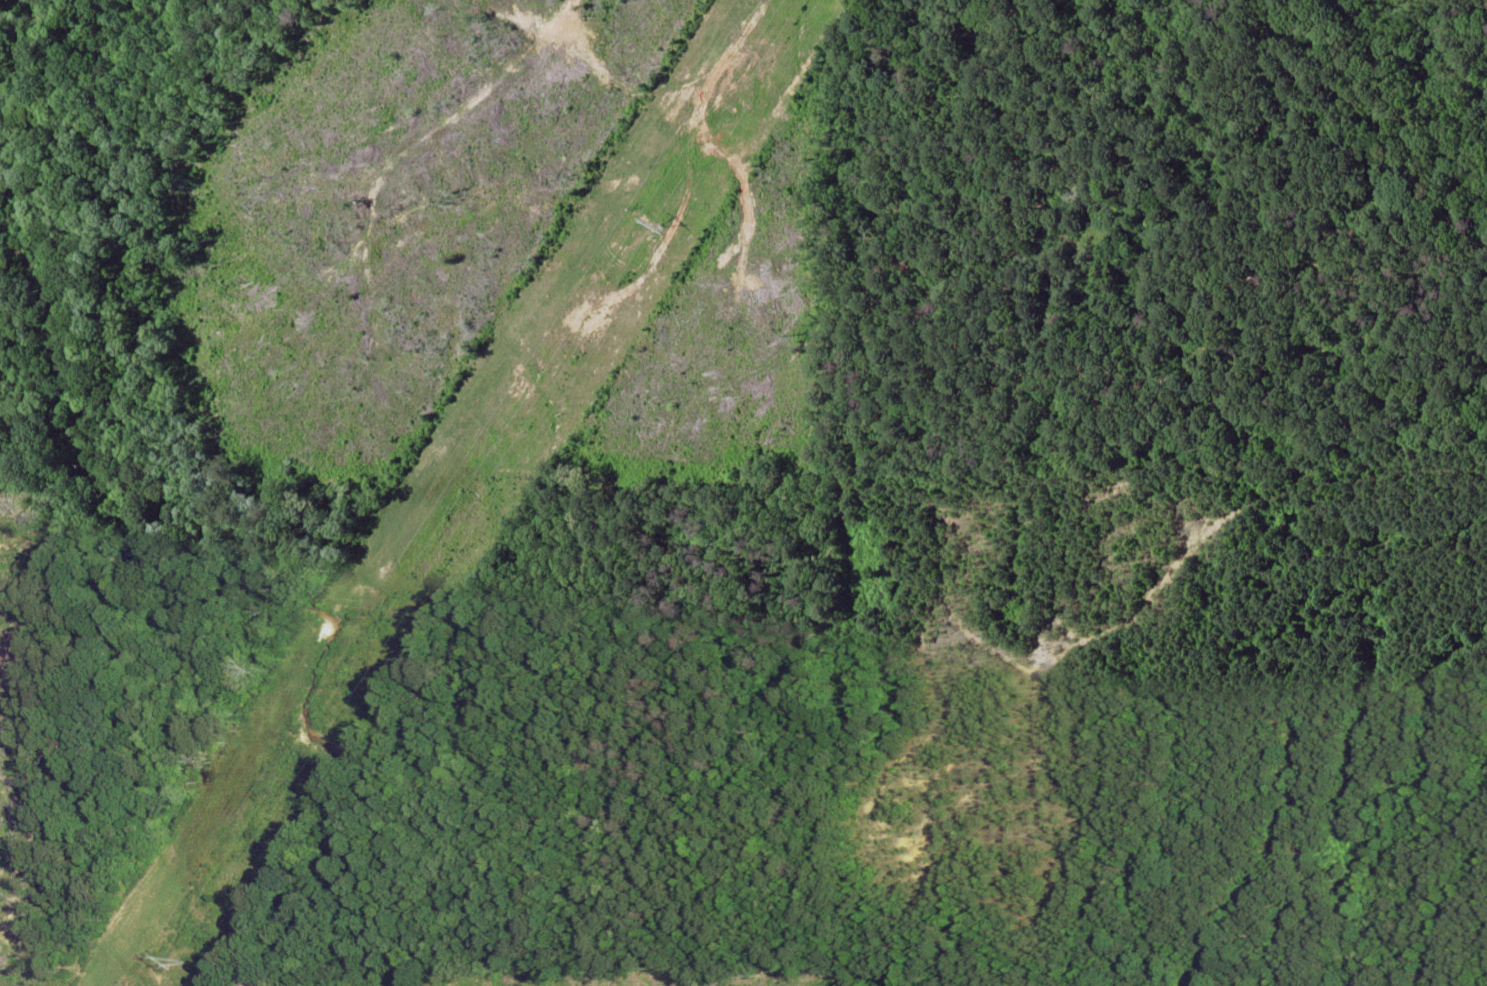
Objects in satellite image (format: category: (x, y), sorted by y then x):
road: (1059, 75)
power tower: (664, 227)
road: (1371, 496)
power tower: (186, 961)

